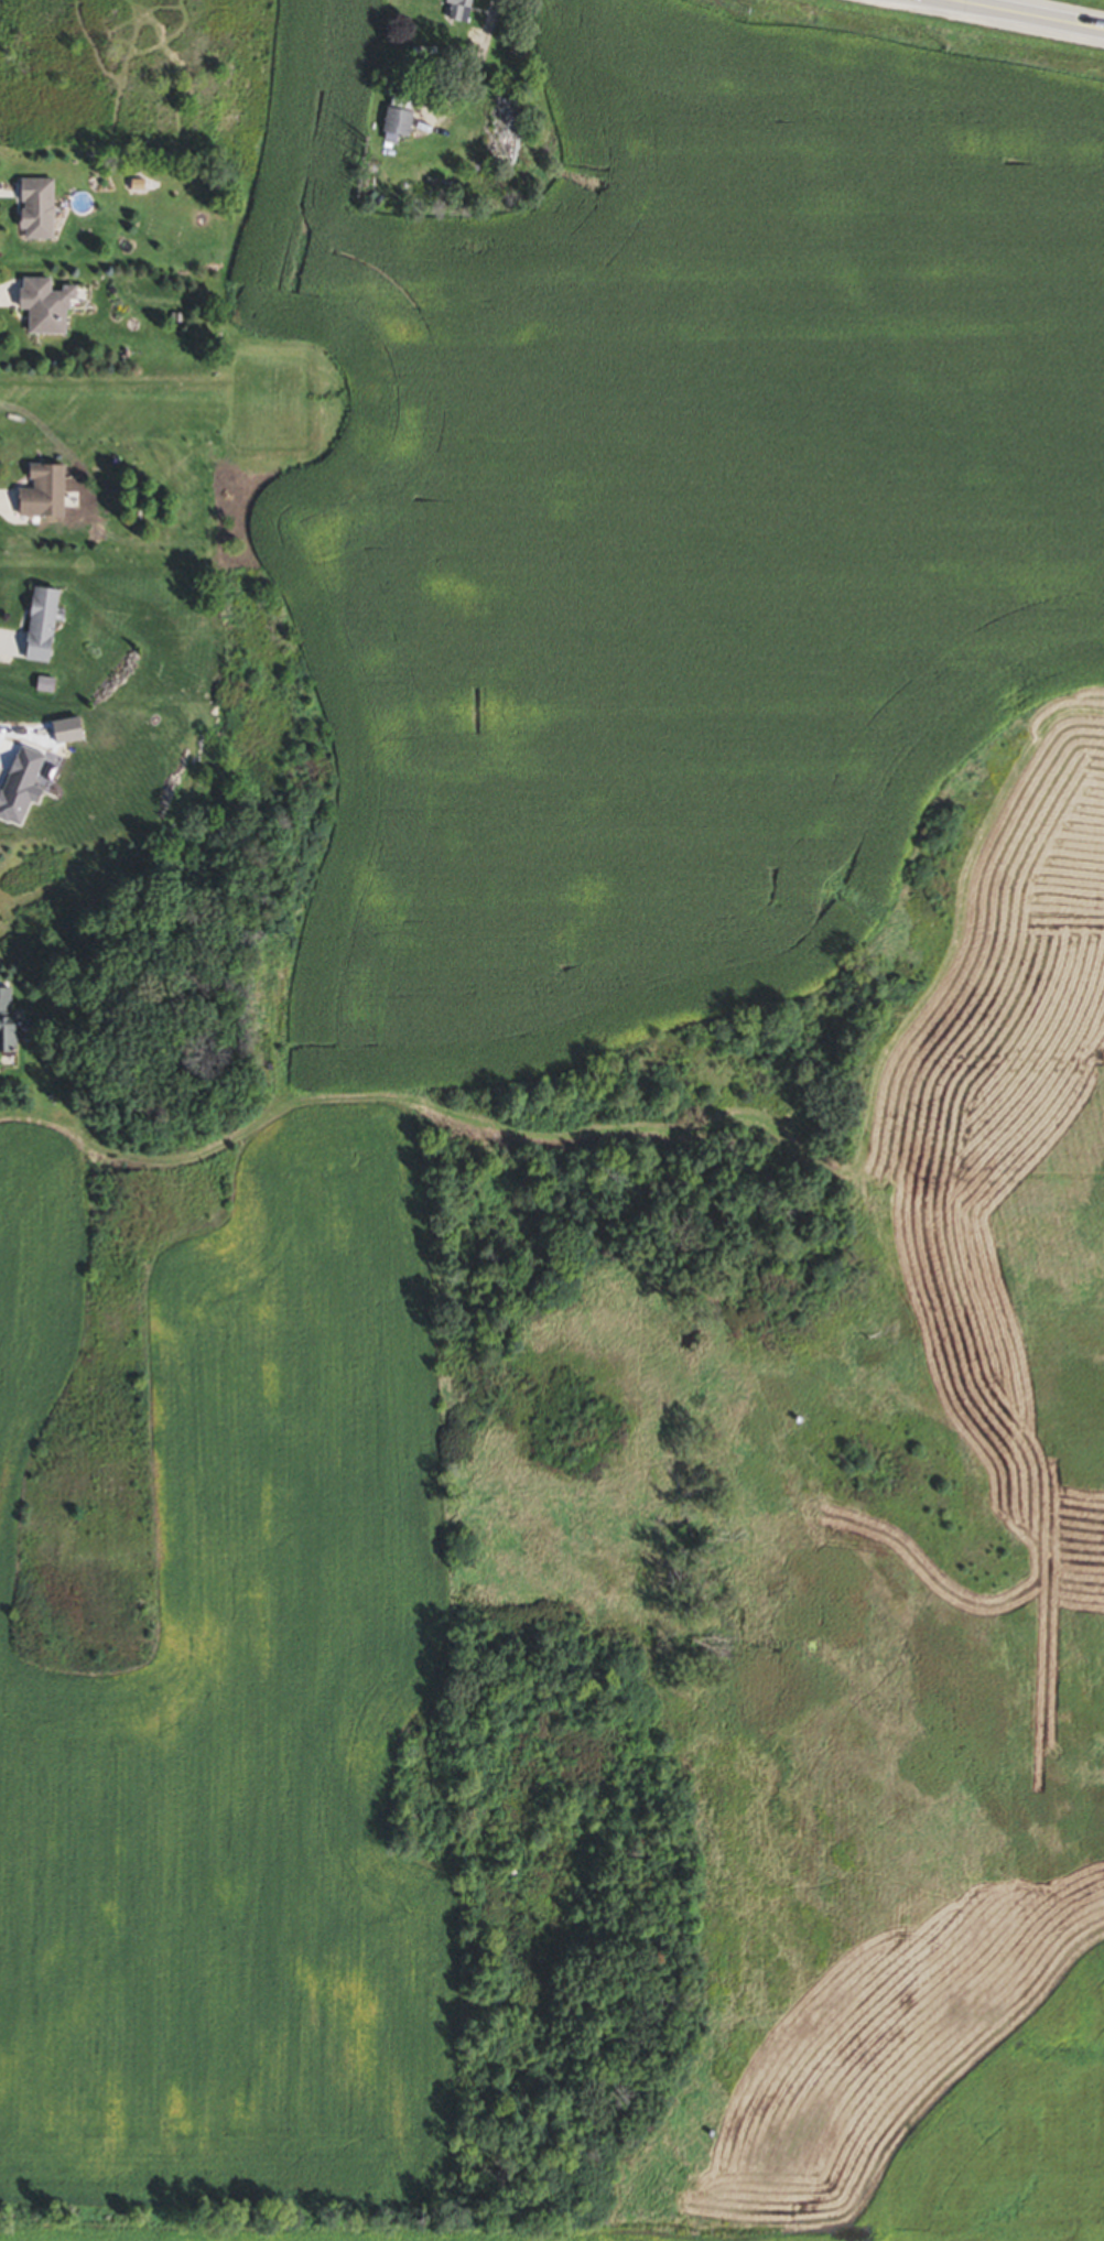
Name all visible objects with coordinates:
building: (456, 10)
road: (1024, 15)
road: (465, 64)
building: (394, 124)
building: (496, 133)
building: (34, 212)
building: (42, 308)
building: (40, 495)
building: (37, 628)
building: (4, 1021)

